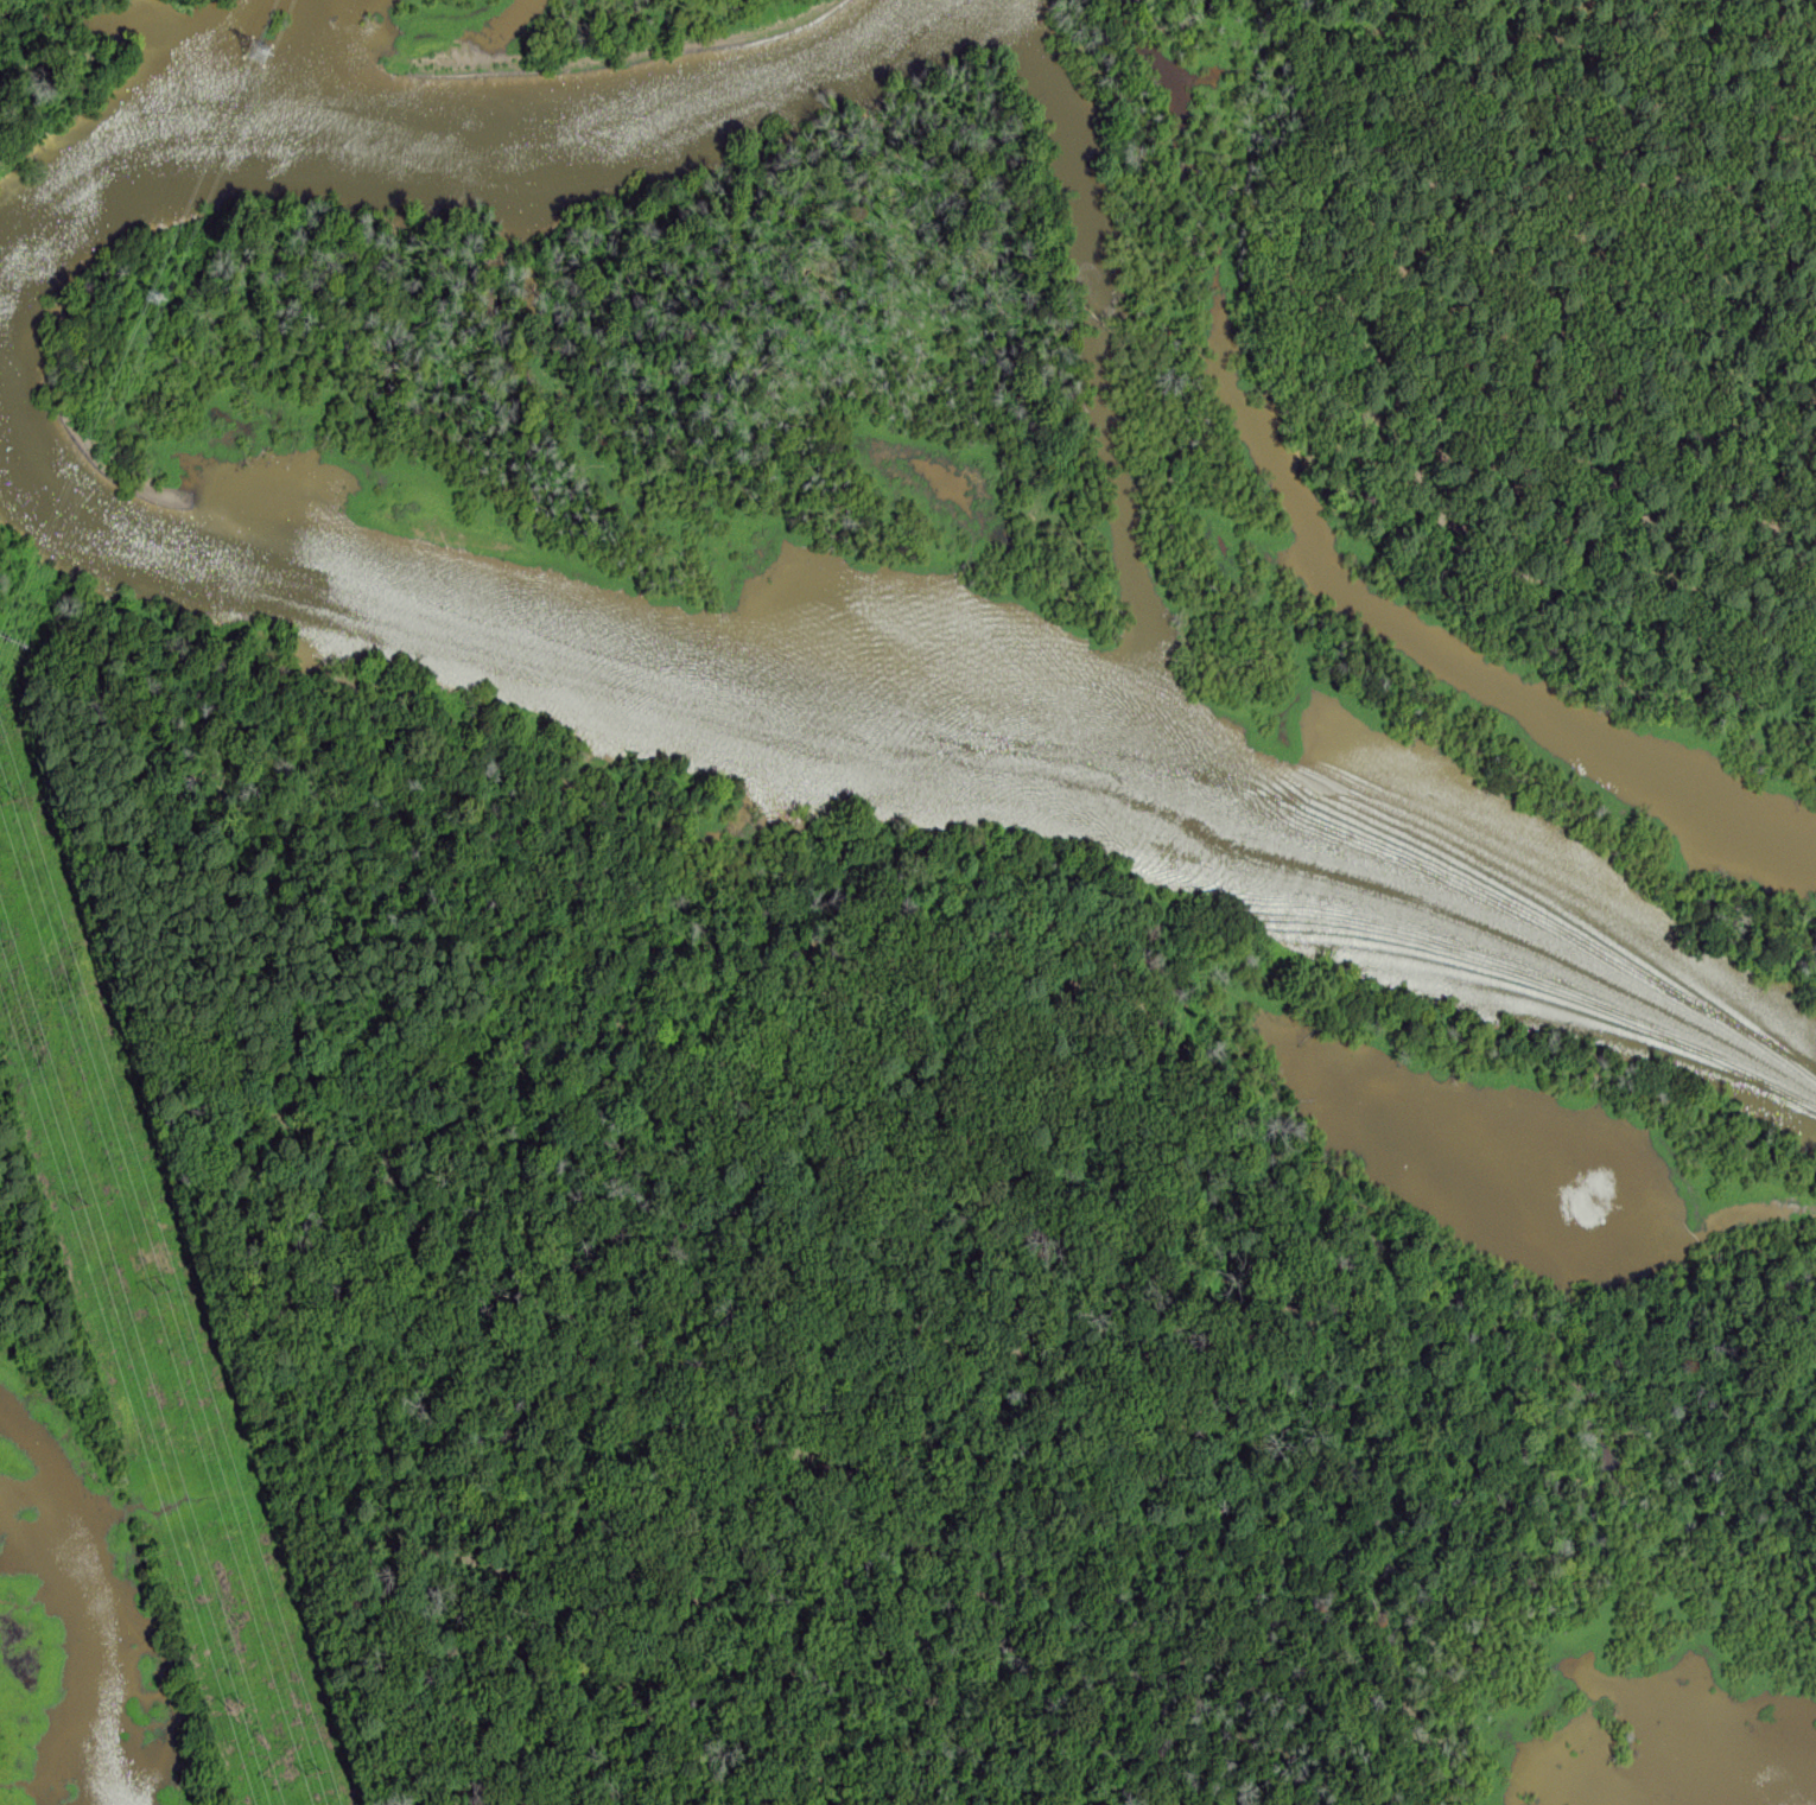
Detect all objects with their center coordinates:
power tower: (263, 52)
river: (423, 128)
power tower: (160, 299)
river: (909, 765)
power tower: (19, 801)
power tower: (90, 1208)
power tower: (174, 1290)
power tower: (230, 1711)
power tower: (309, 1774)

